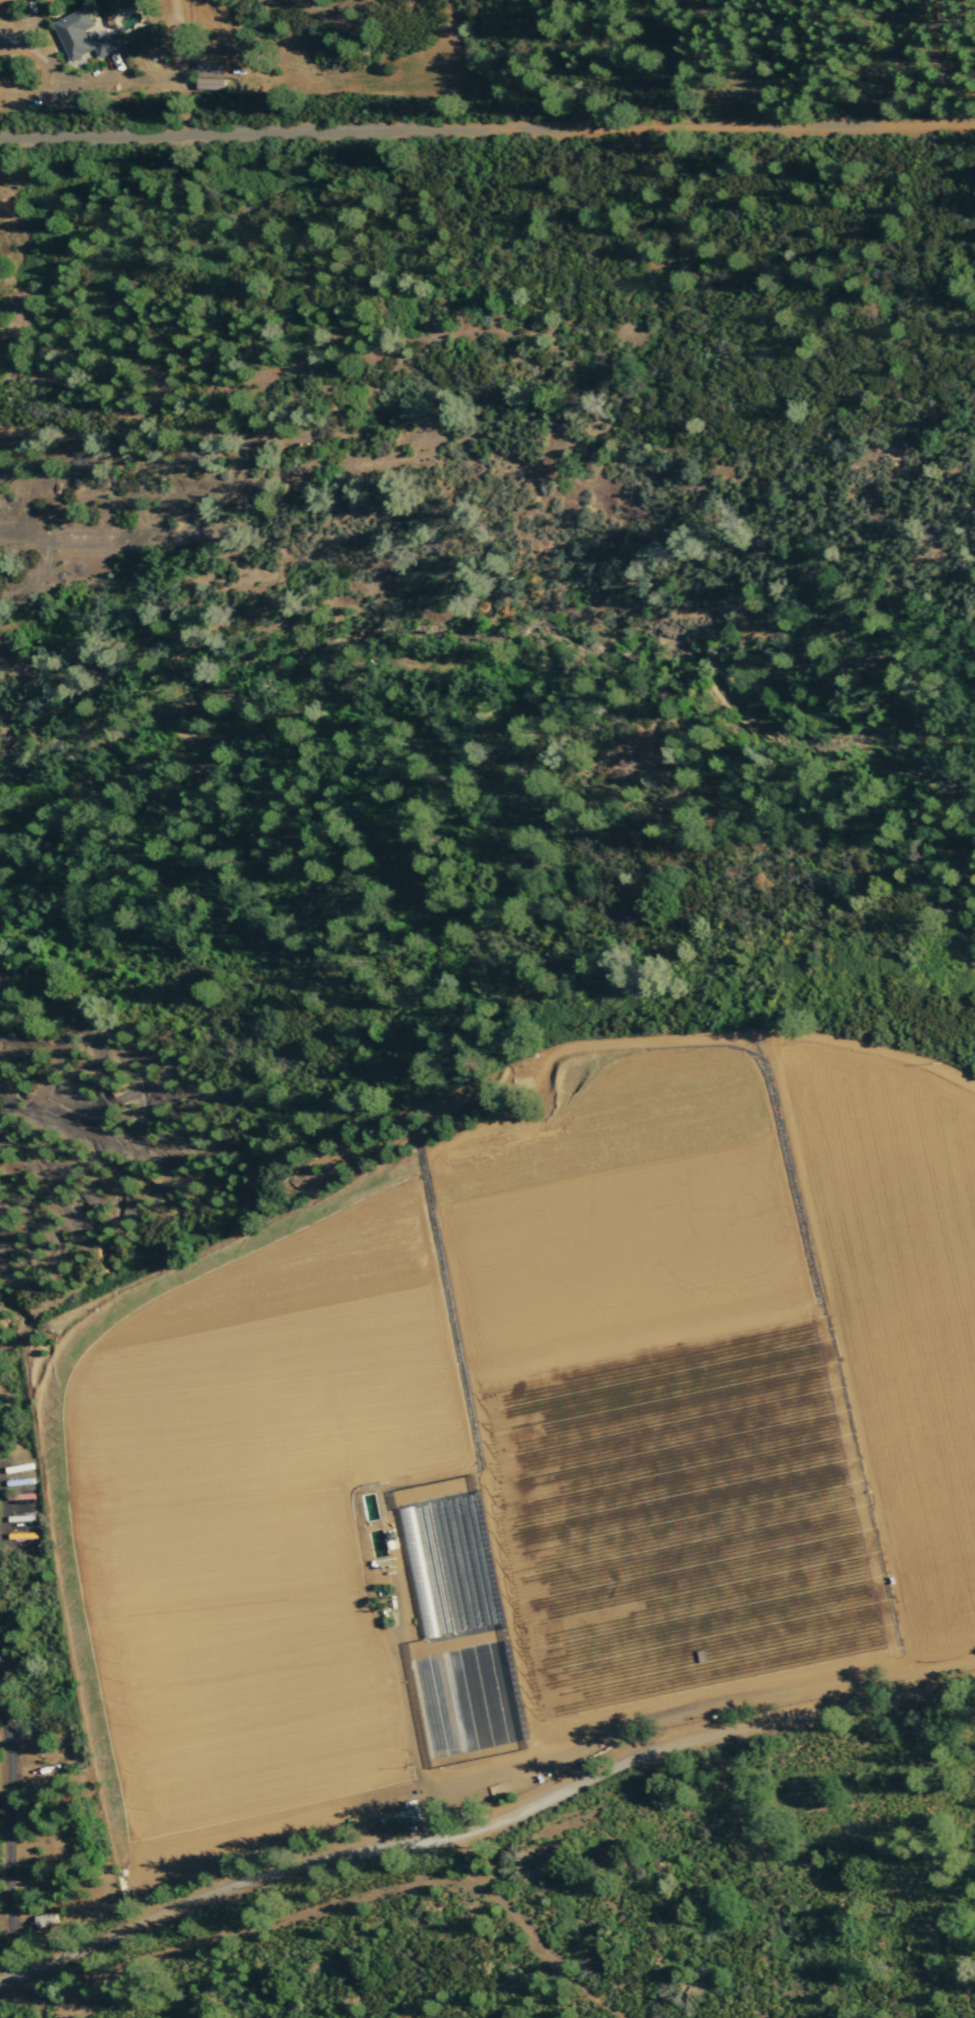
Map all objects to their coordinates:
building: (81, 37)
building: (209, 77)
road: (487, 132)
road: (0, 1533)
road: (496, 1816)
road: (11, 1833)
road: (531, 1931)
road: (10, 1979)
road: (38, 1994)

